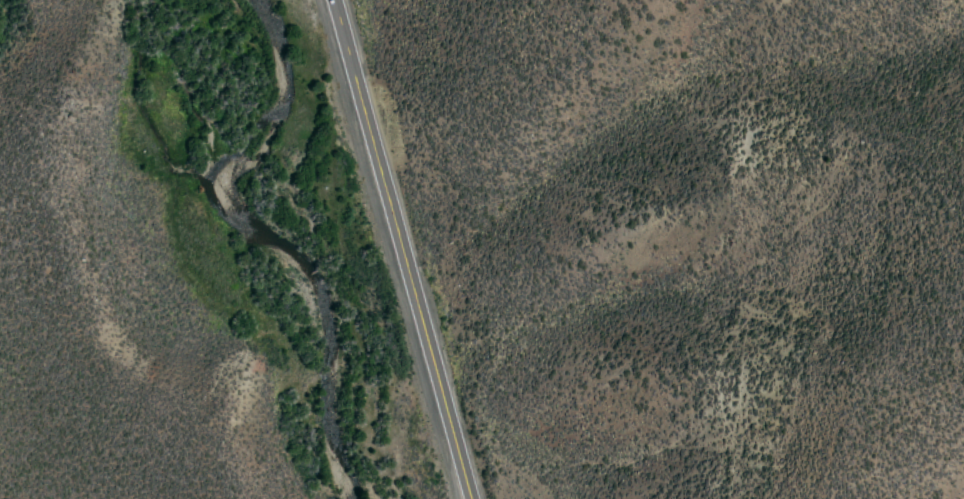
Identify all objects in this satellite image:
road: (400, 249)

